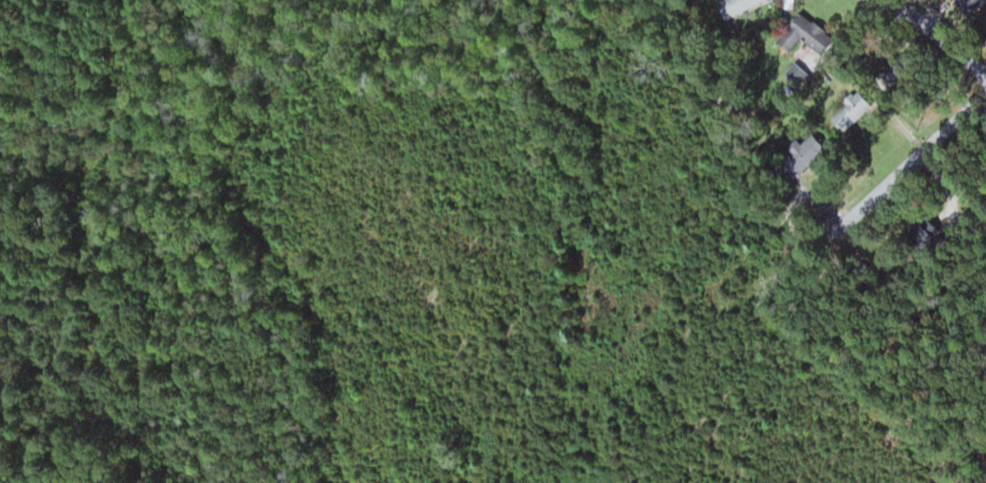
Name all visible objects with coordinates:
building: (967, 5)
building: (734, 6)
building: (801, 34)
road: (939, 37)
building: (889, 74)
building: (798, 156)
road: (913, 159)
road: (952, 172)
building: (920, 236)

